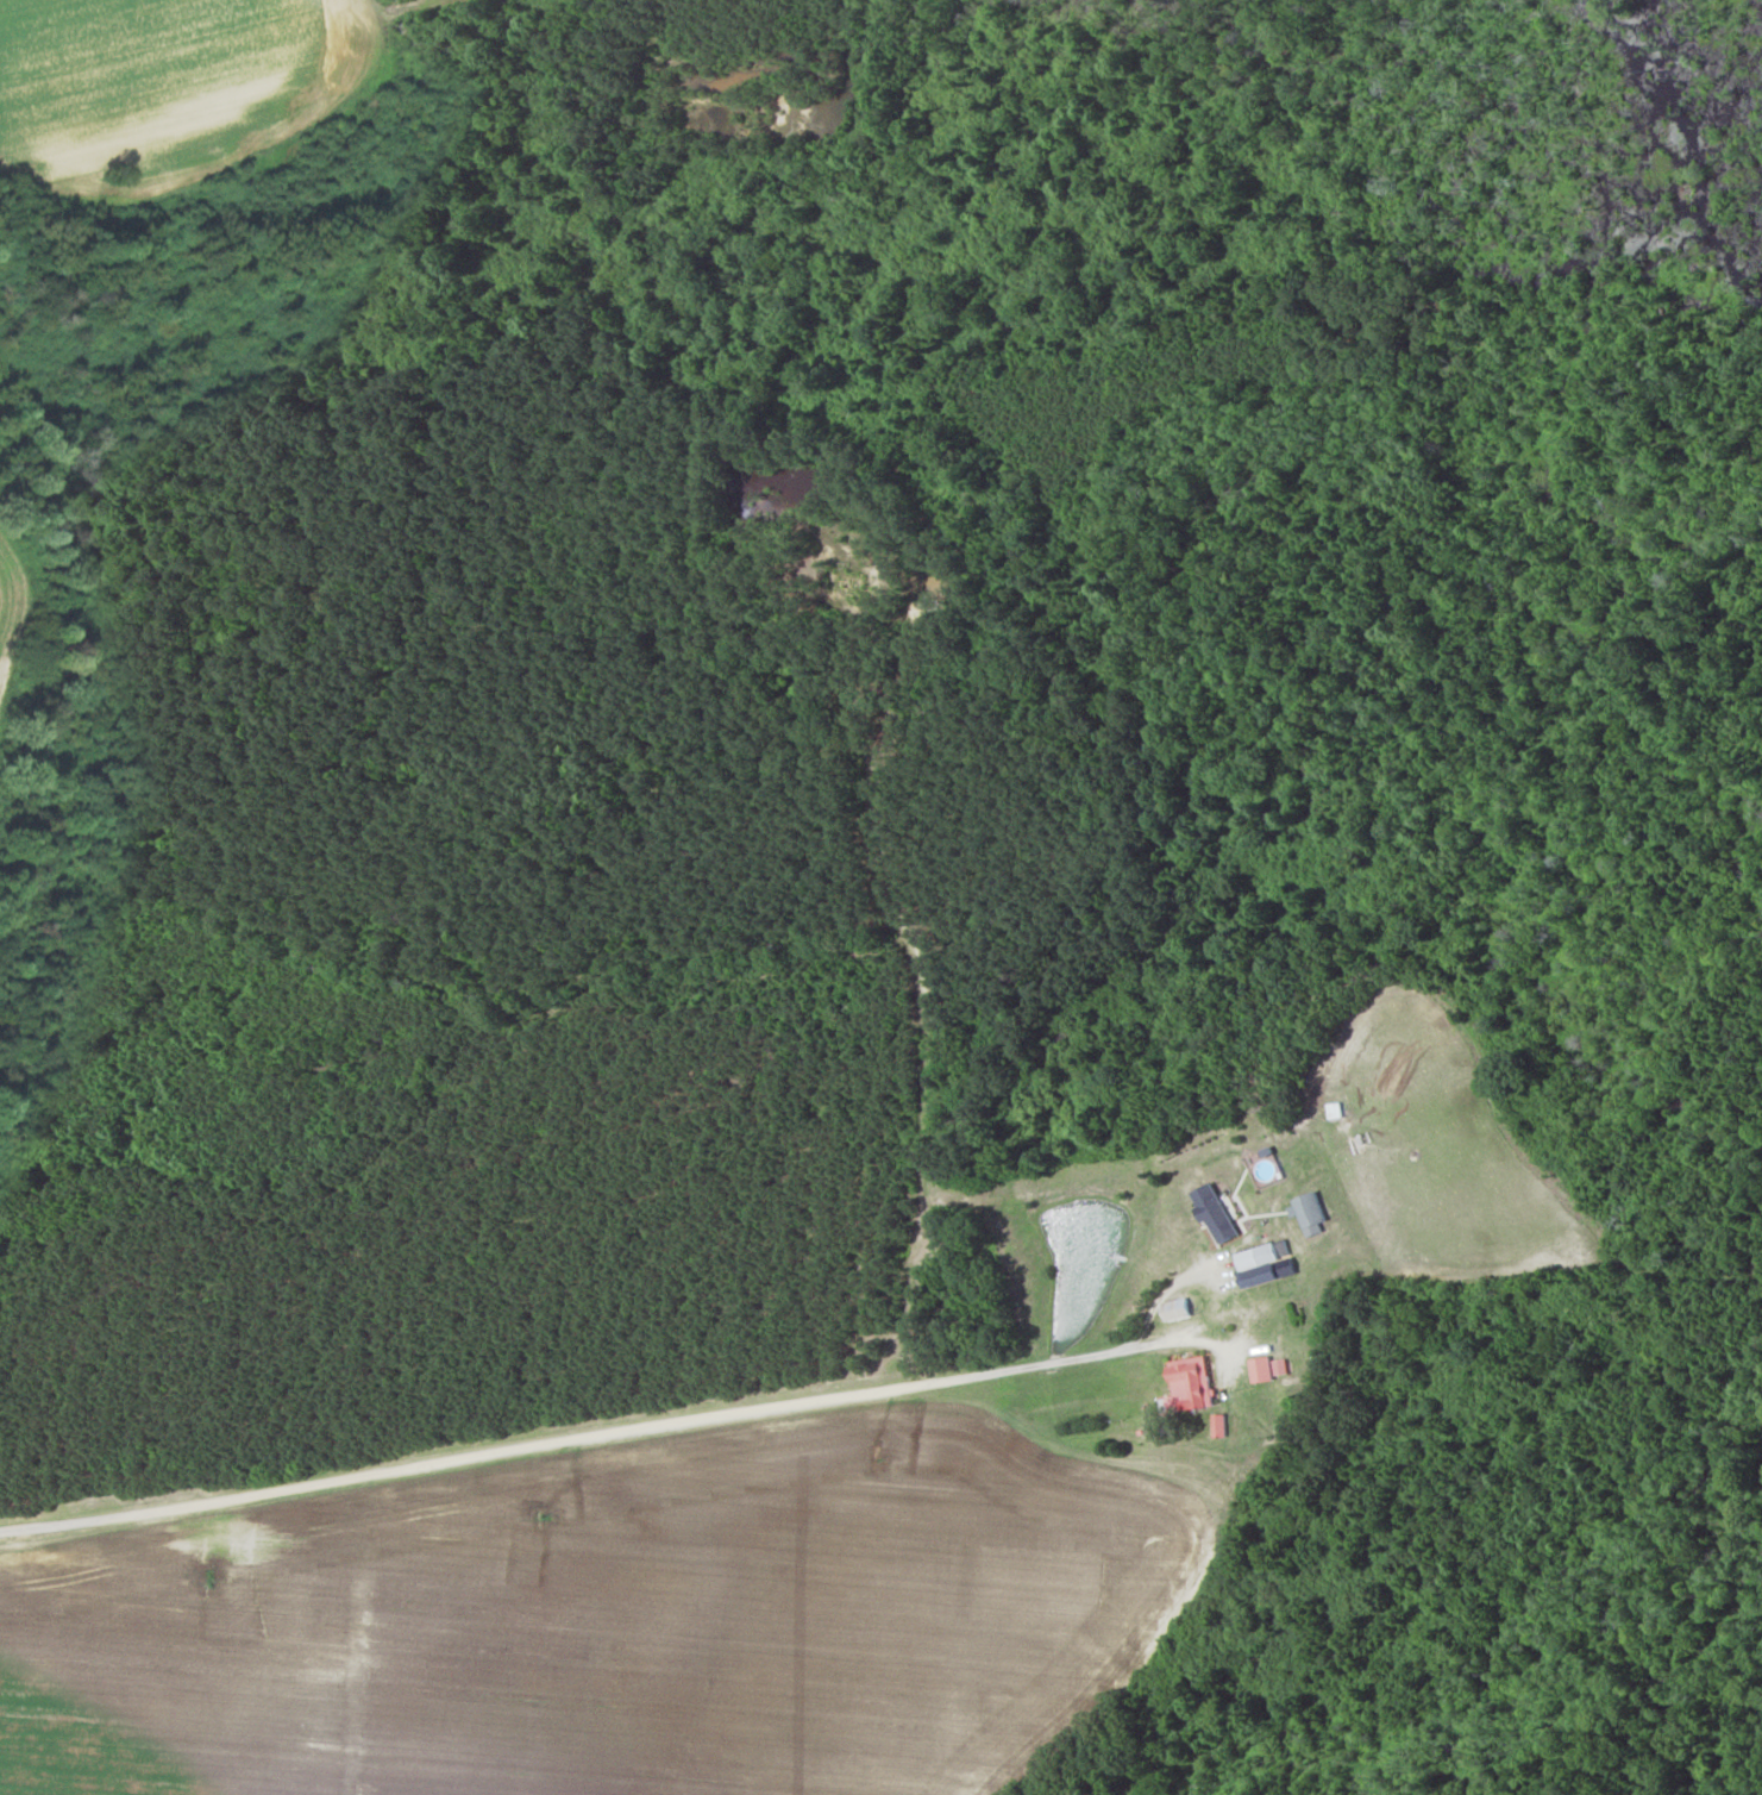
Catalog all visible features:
road: (691, 7)
road: (372, 18)
building: (1211, 1212)
building: (1308, 1213)
building: (1255, 1264)
building: (1174, 1309)
building: (1266, 1368)
building: (1187, 1384)
road: (610, 1431)

